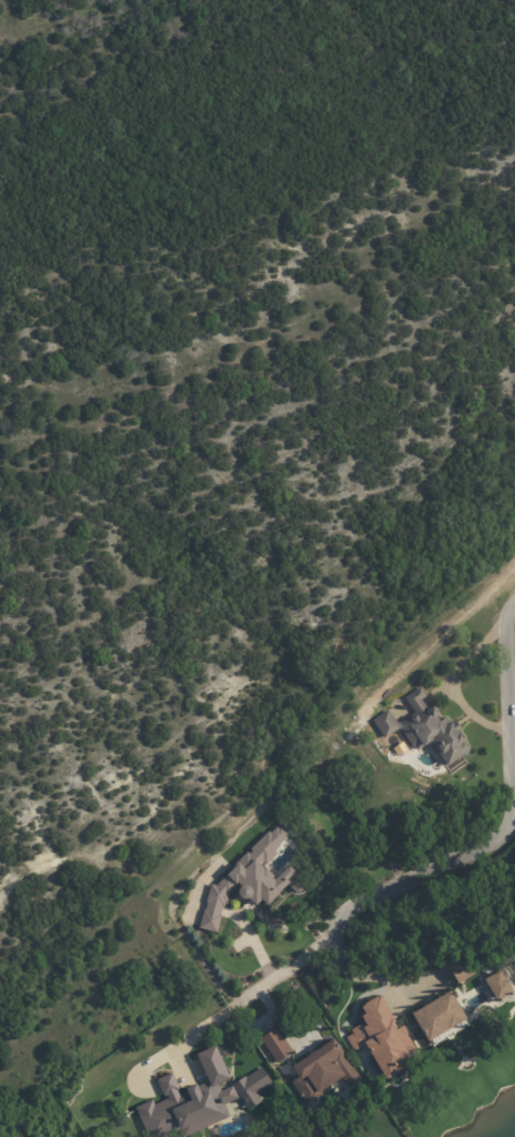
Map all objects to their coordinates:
road: (327, 724)
building: (424, 732)
road: (74, 854)
building: (250, 879)
road: (407, 882)
building: (458, 969)
road: (363, 976)
building: (496, 986)
building: (436, 1017)
building: (381, 1038)
building: (277, 1046)
building: (224, 1053)
building: (321, 1071)
building: (251, 1088)
building: (189, 1103)

